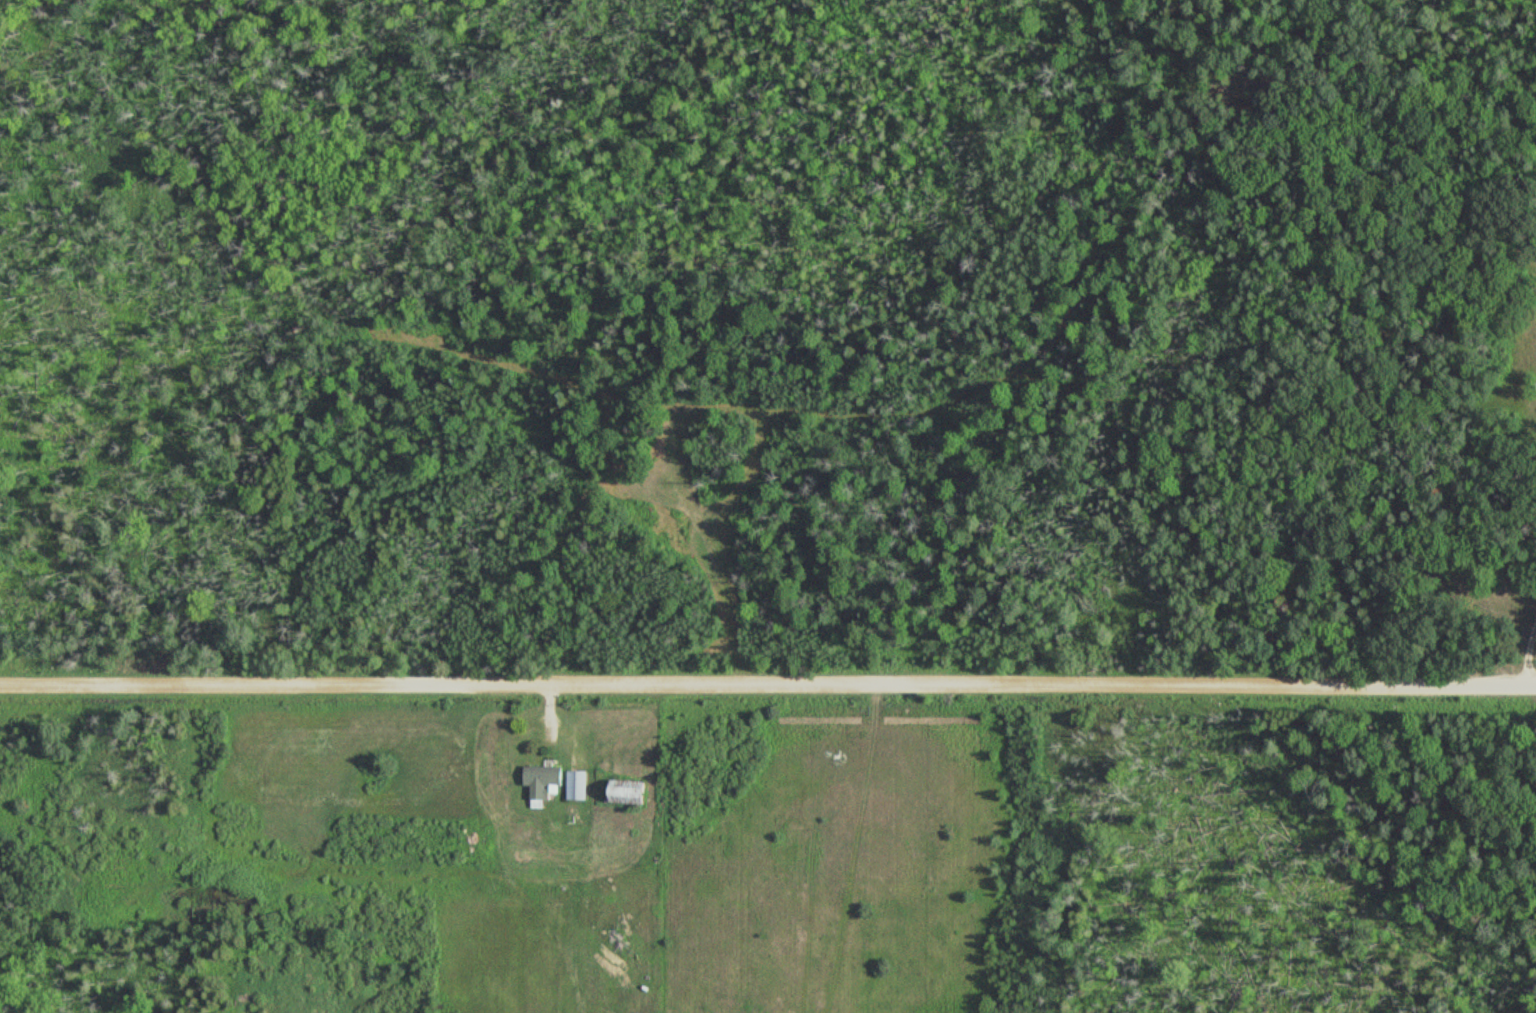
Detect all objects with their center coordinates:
road: (768, 683)
building: (546, 781)
building: (579, 785)
building: (633, 792)

